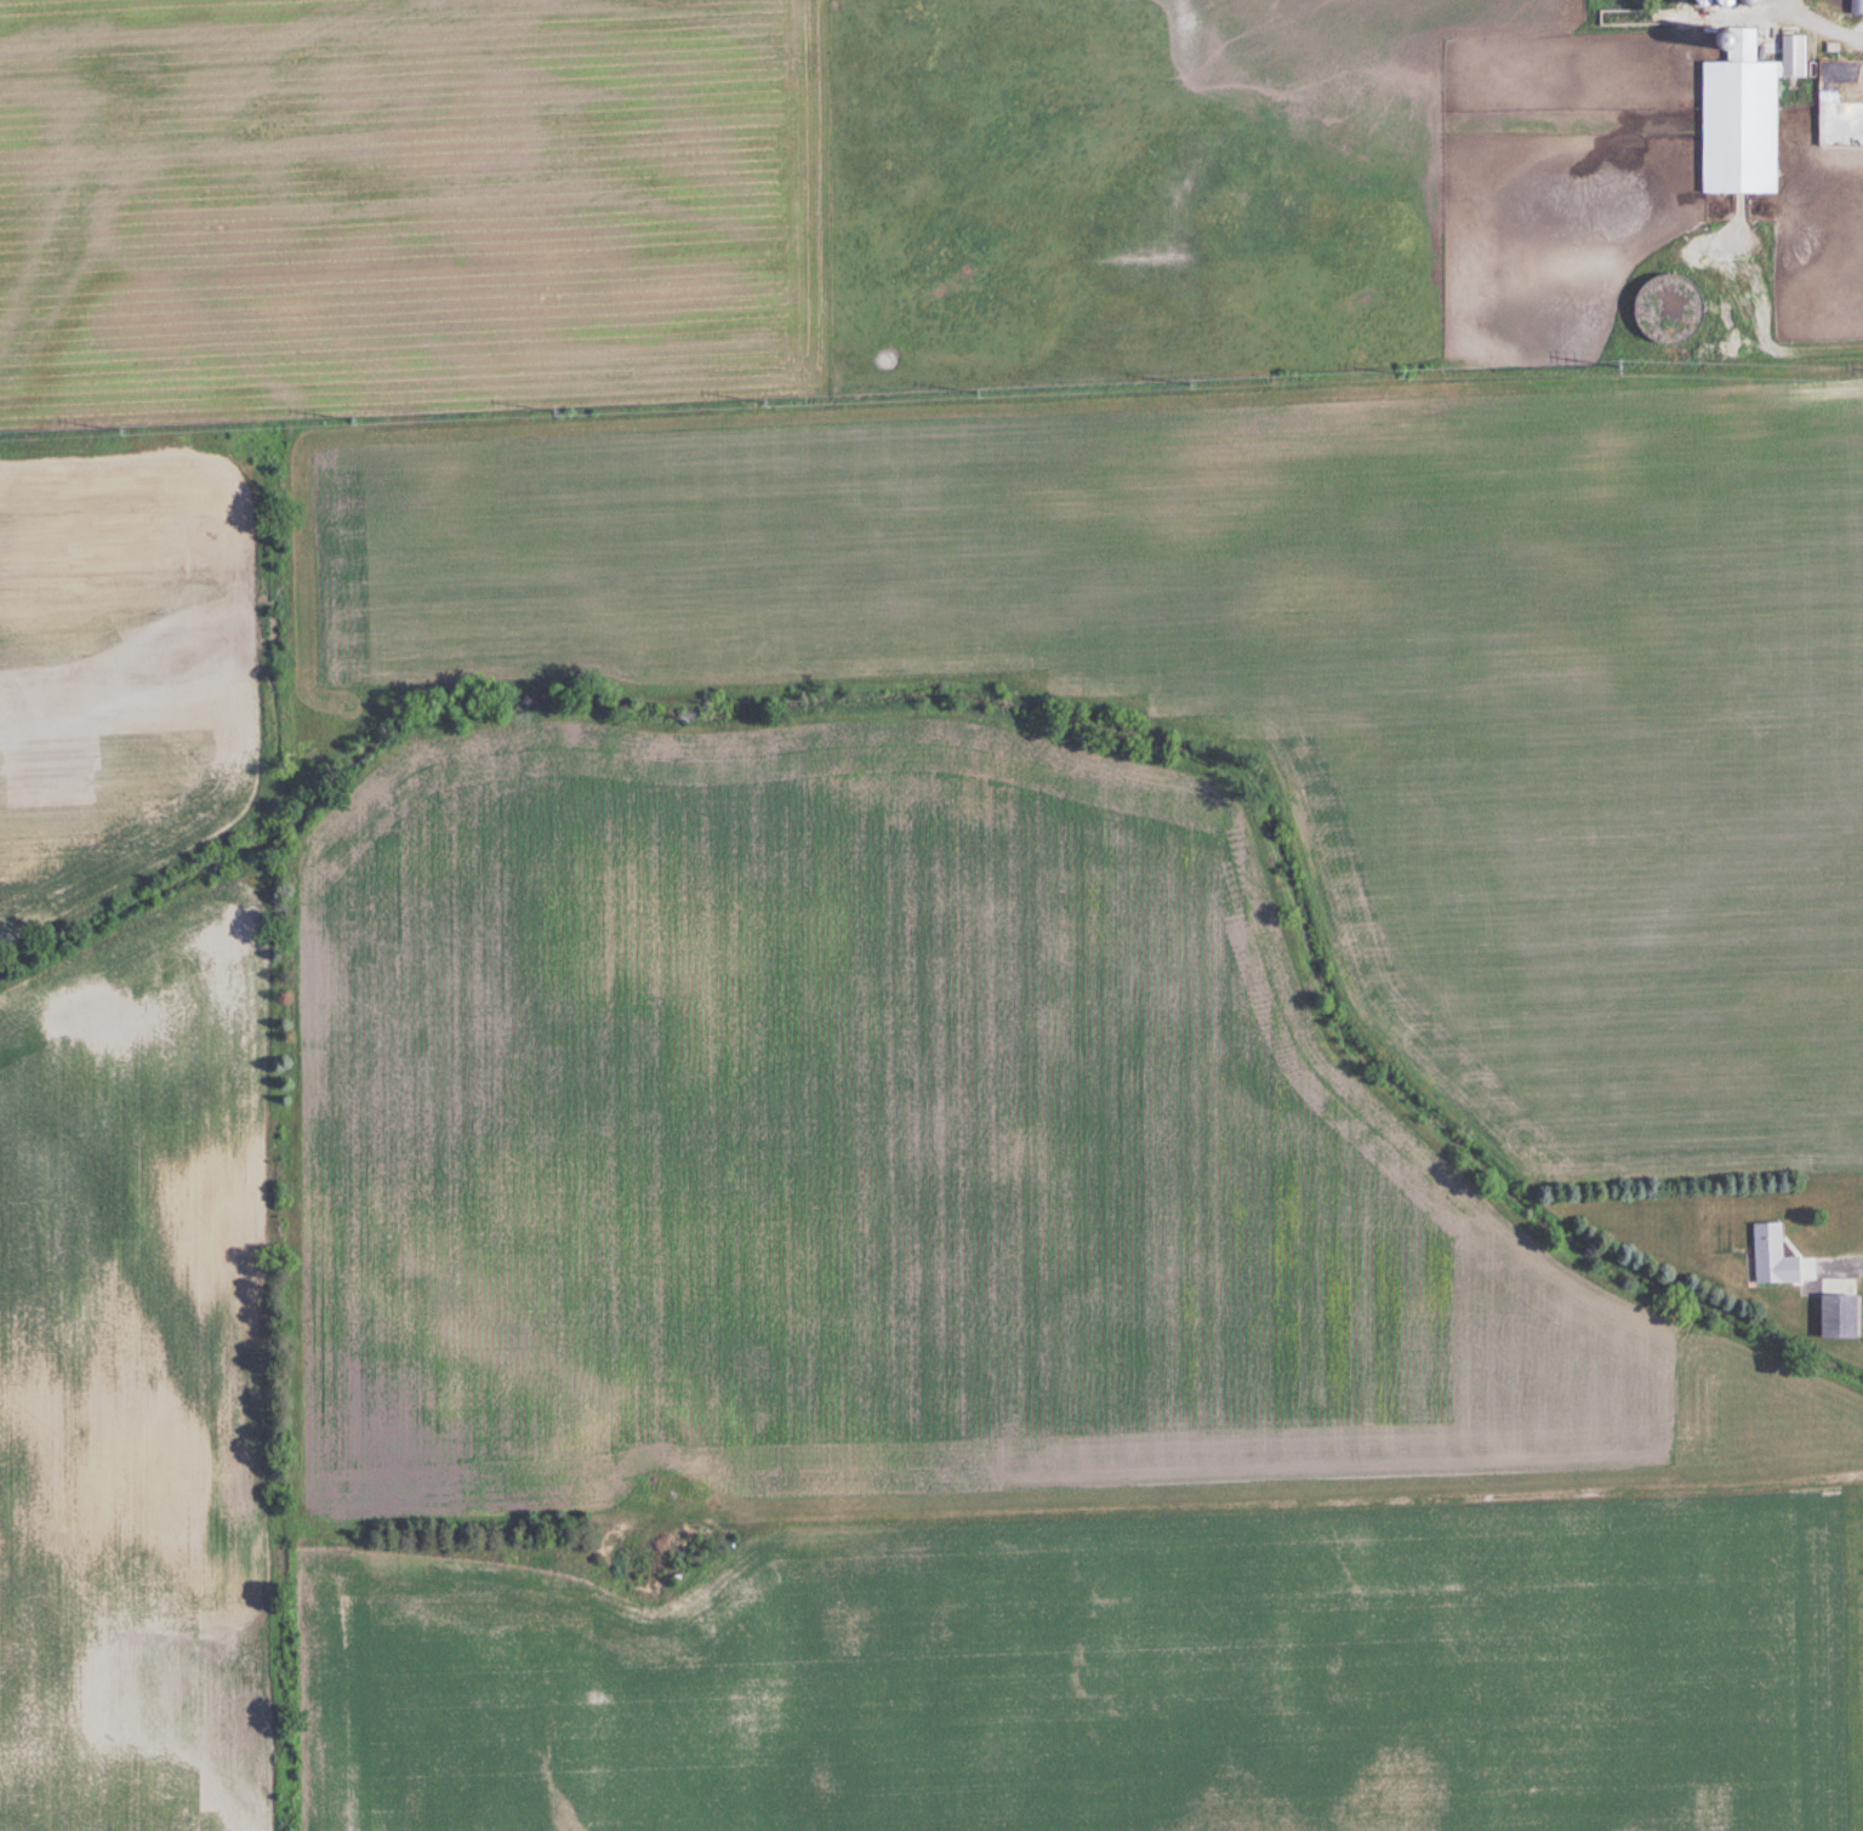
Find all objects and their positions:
building: (1856, 7)
road: (1822, 24)
building: (1743, 116)
building: (1770, 1256)
building: (1835, 1317)

